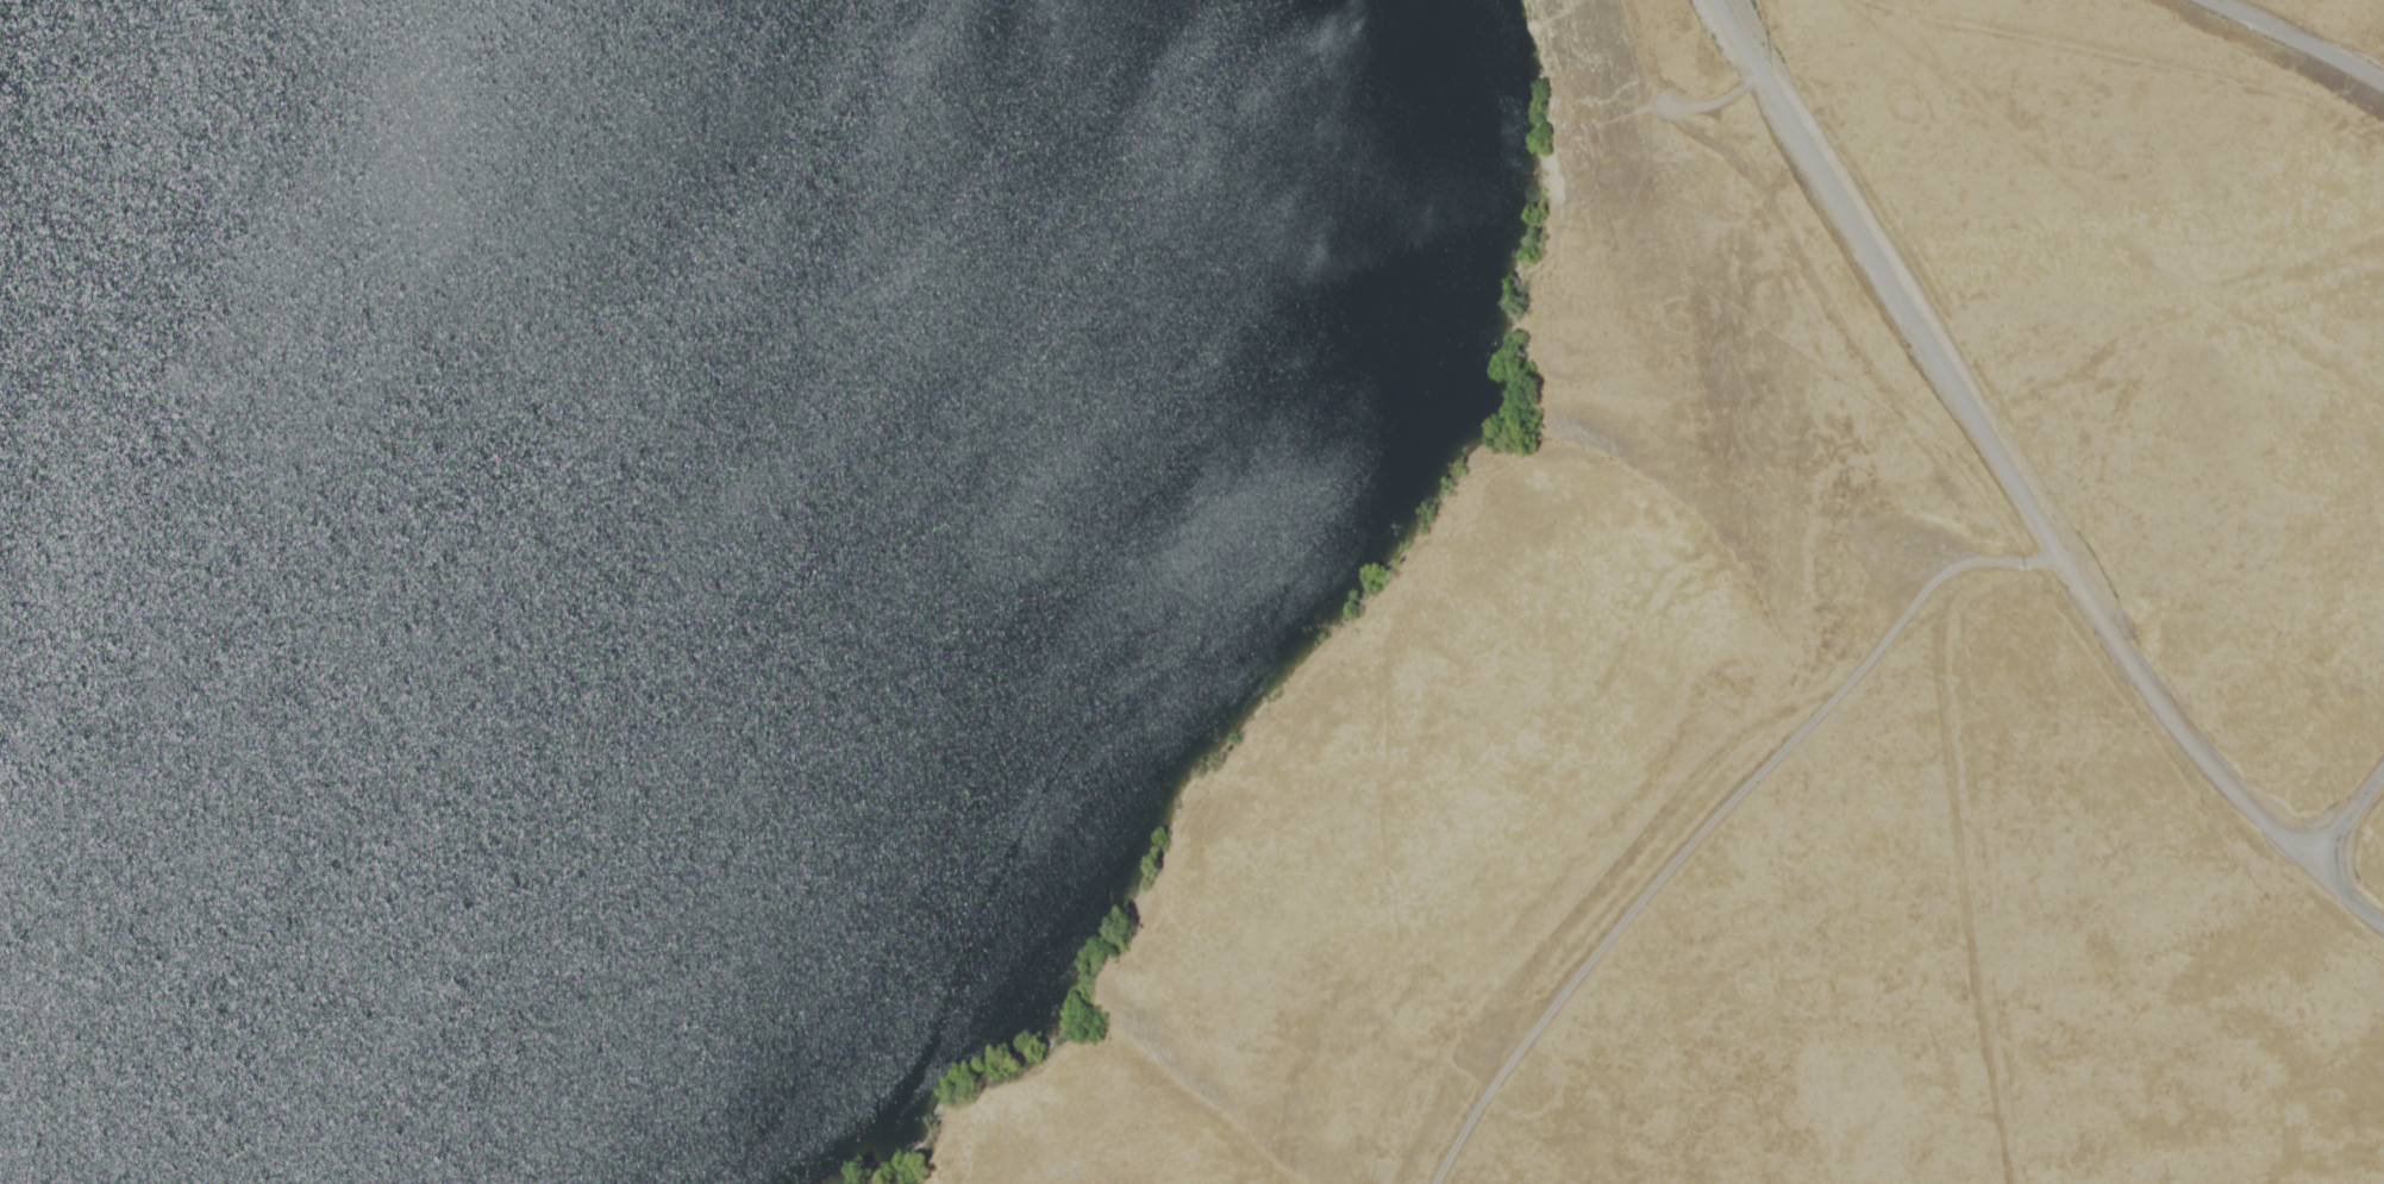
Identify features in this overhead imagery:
road: (2296, 45)
road: (57, 253)
road: (2008, 468)
park: (1191, 591)
road: (1715, 809)
road: (2344, 813)
road: (2364, 906)

